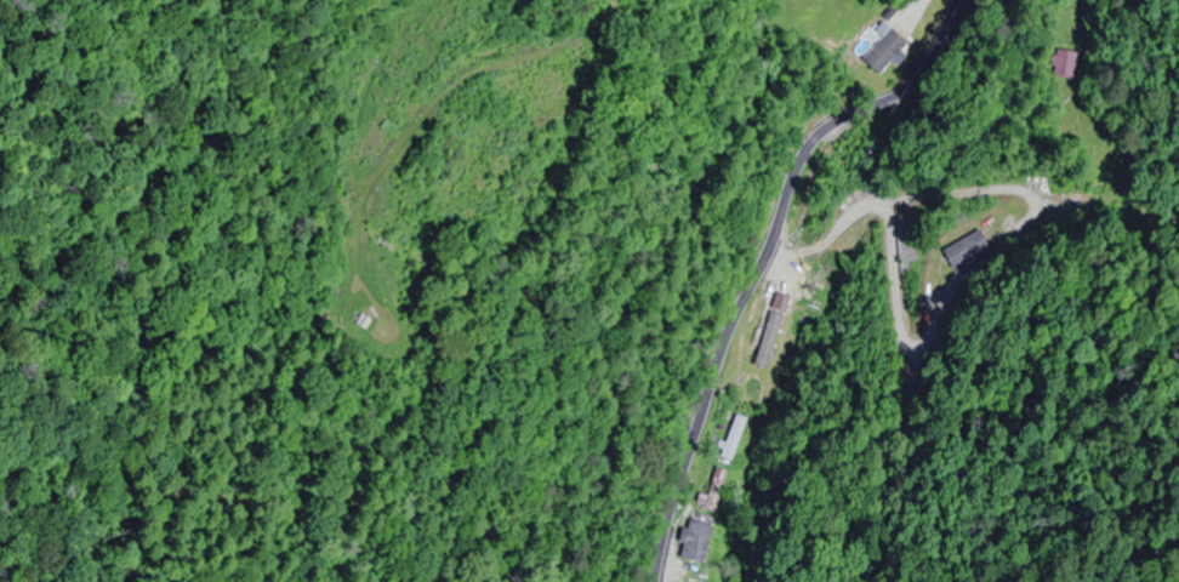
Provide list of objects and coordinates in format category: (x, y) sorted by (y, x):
building: (881, 51)
building: (1065, 64)
building: (964, 250)
road: (762, 258)
building: (770, 346)
building: (733, 438)
building: (713, 491)
building: (691, 542)

